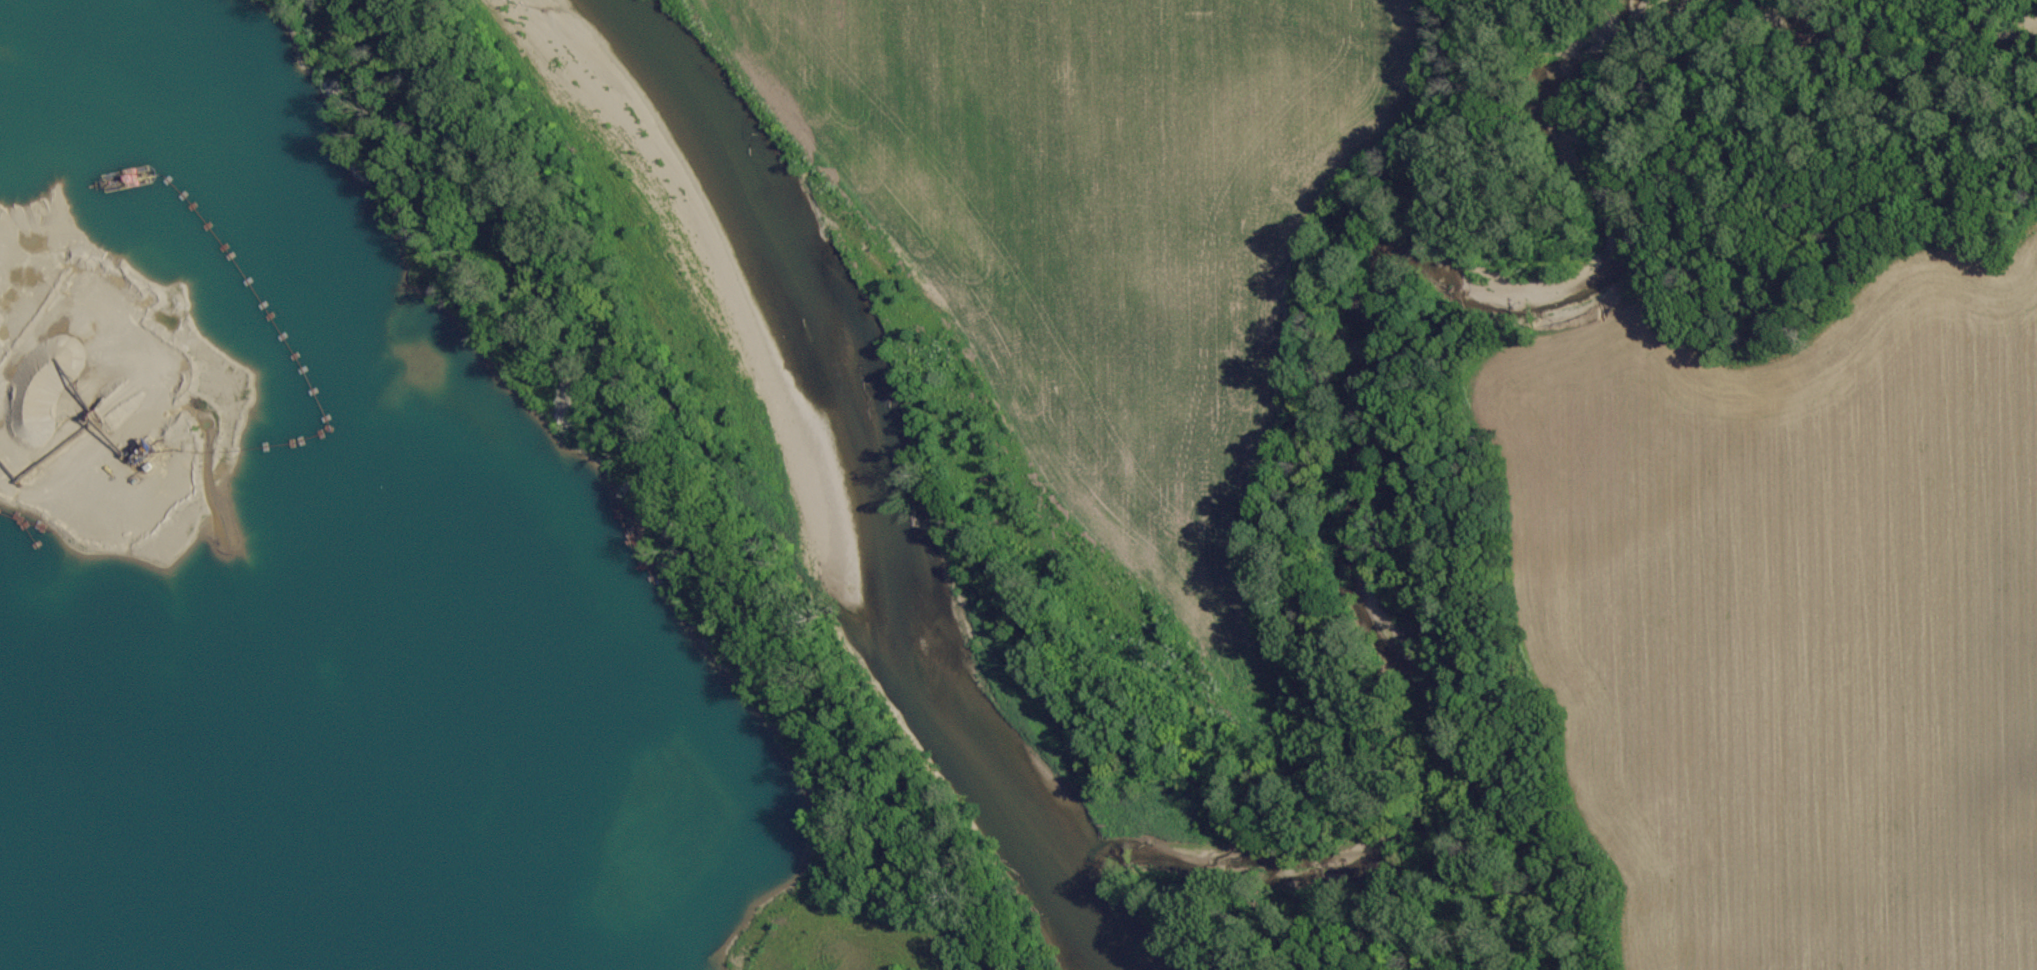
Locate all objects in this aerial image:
river: (831, 494)

